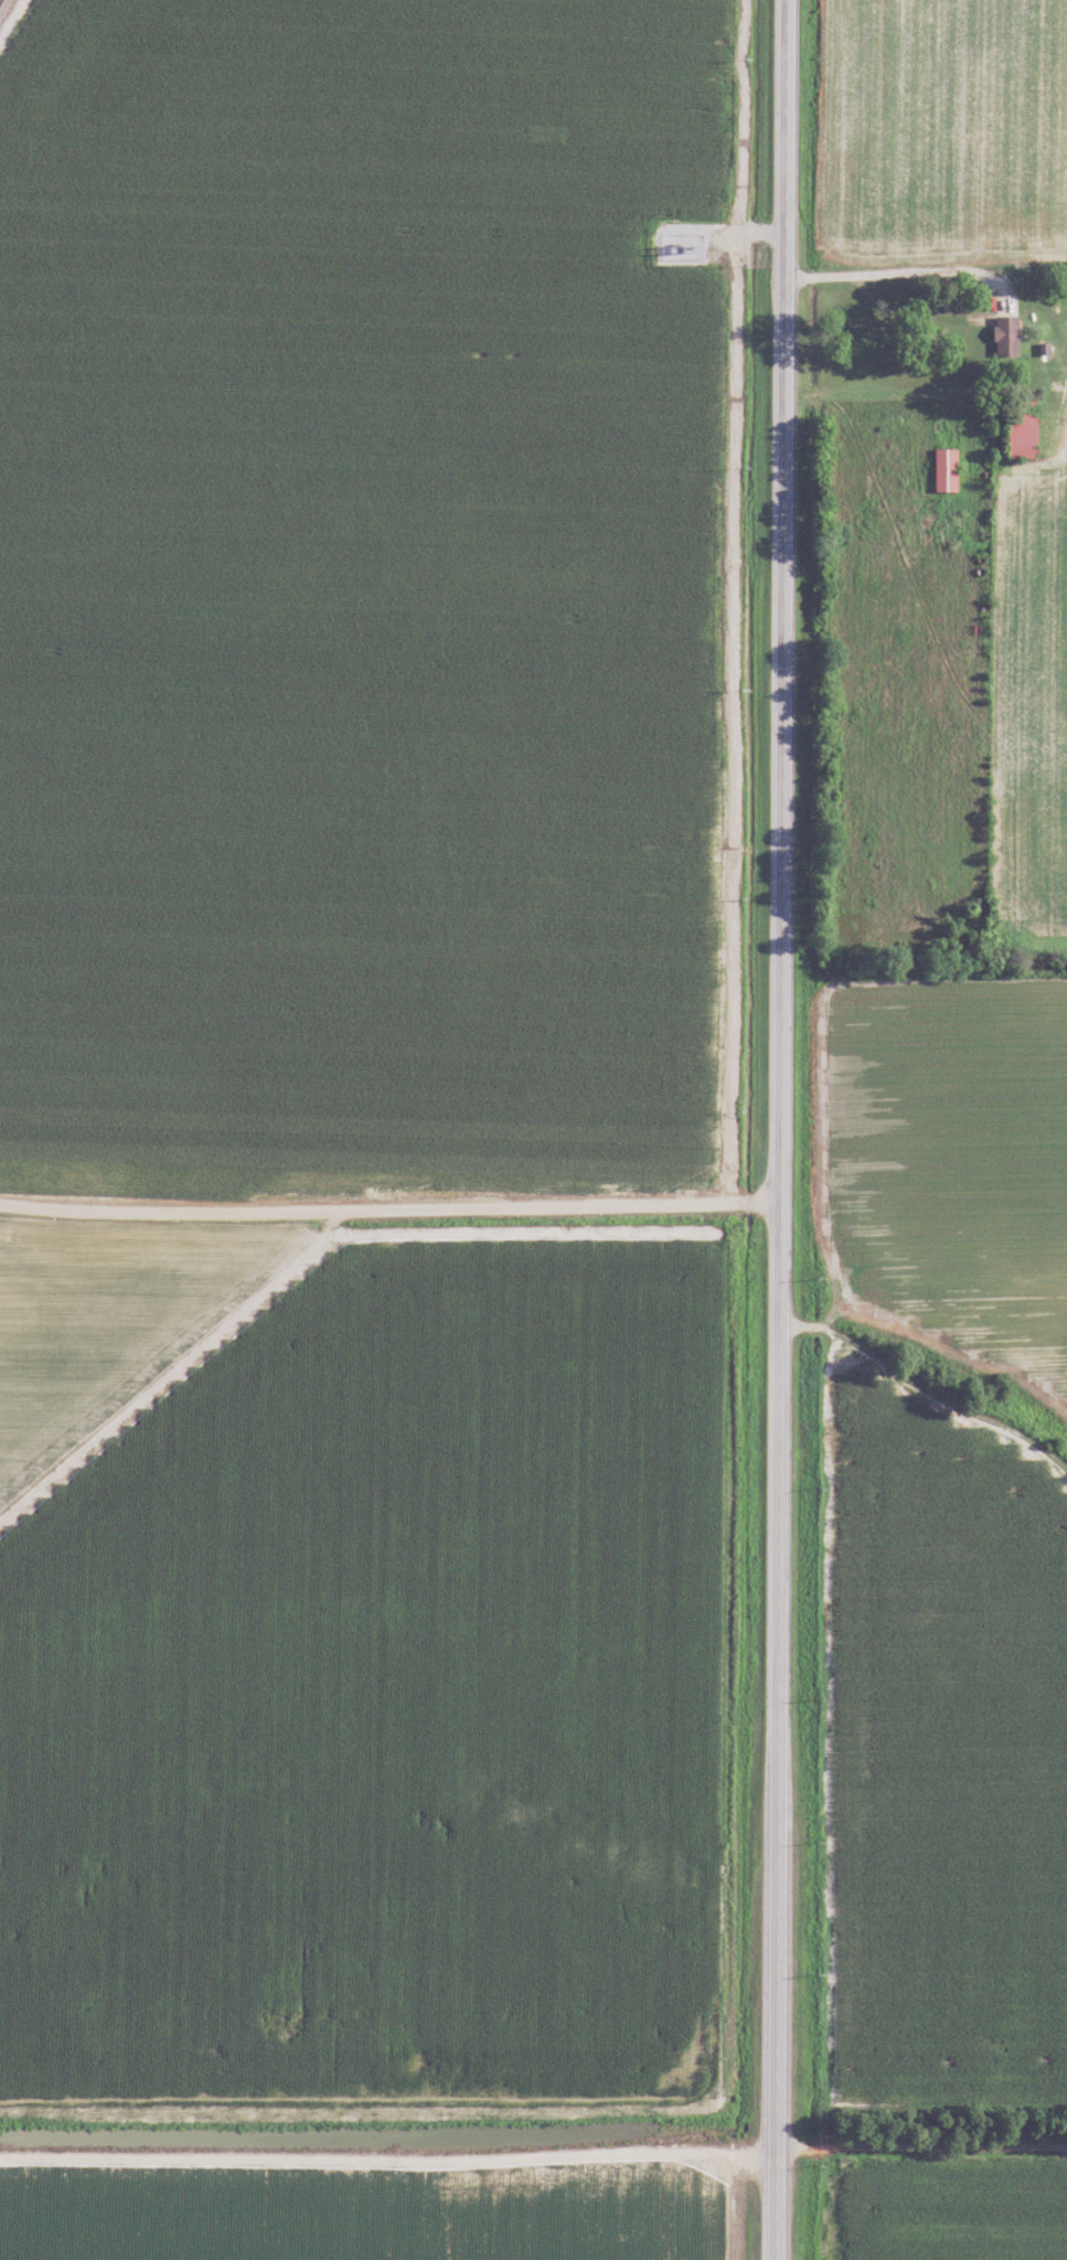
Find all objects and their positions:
road: (907, 274)
road: (779, 1130)
road: (388, 1211)

